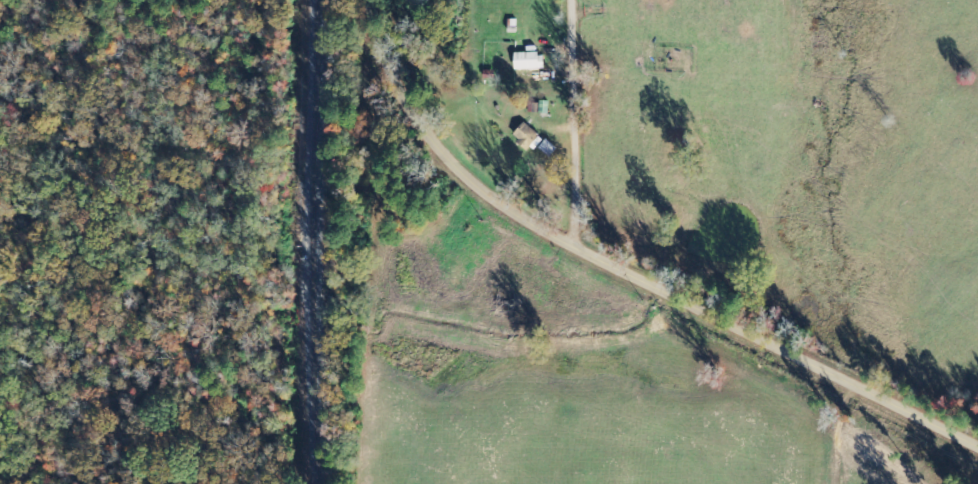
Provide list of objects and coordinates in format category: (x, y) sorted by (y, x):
building: (527, 61)
road: (575, 123)
building: (532, 140)
railway: (320, 242)
road: (629, 273)

